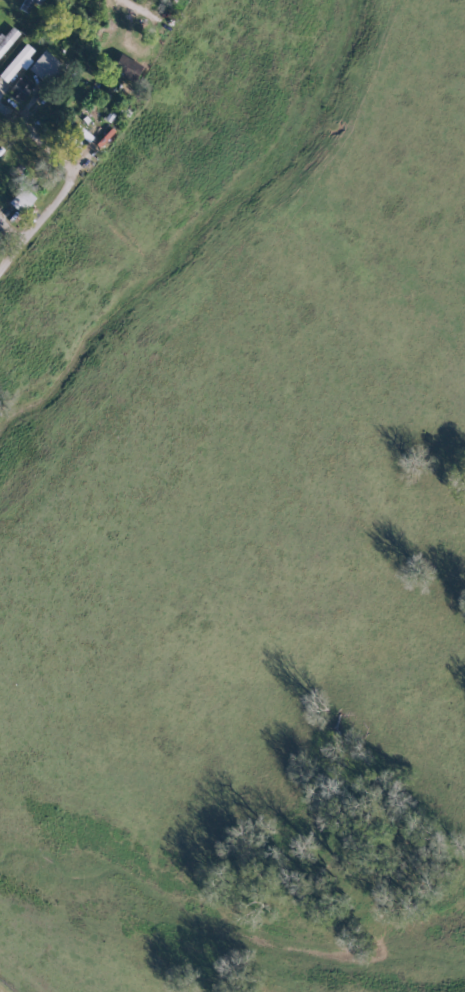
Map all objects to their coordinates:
building: (23, 5)
road: (176, 17)
building: (6, 38)
building: (15, 62)
building: (41, 67)
building: (123, 68)
building: (17, 89)
road: (138, 113)
road: (35, 160)
building: (18, 200)
road: (46, 223)
road: (10, 244)
road: (10, 265)
railway: (24, 971)

